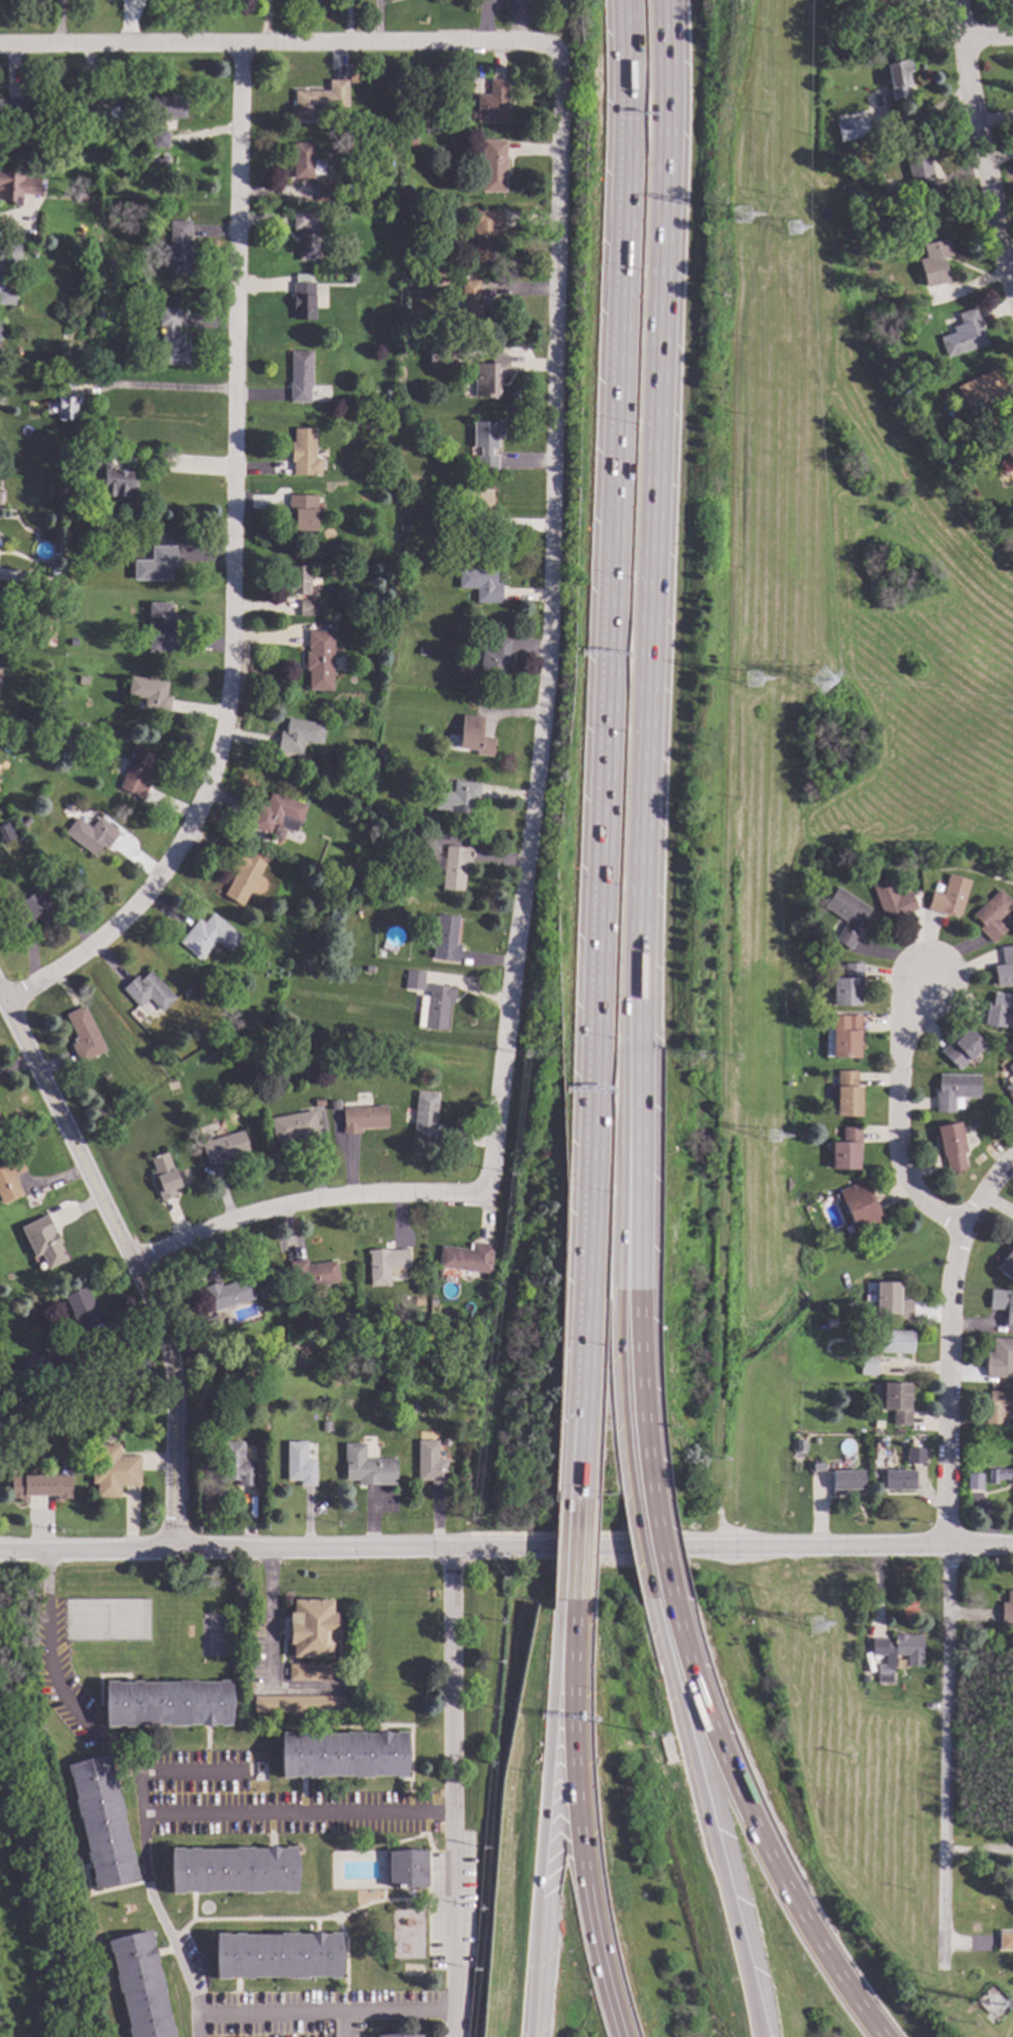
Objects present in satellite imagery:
building: (887, 7)
road: (276, 39)
road: (987, 40)
building: (354, 77)
building: (898, 79)
building: (320, 101)
building: (493, 104)
building: (168, 107)
building: (13, 108)
building: (104, 108)
building: (409, 125)
building: (862, 128)
building: (160, 140)
road: (982, 140)
building: (343, 143)
building: (41, 147)
building: (49, 147)
building: (832, 157)
building: (164, 160)
building: (305, 162)
building: (493, 166)
building: (917, 171)
building: (17, 188)
building: (325, 191)
building: (83, 196)
power tower: (741, 216)
road: (16, 218)
power tower: (795, 232)
building: (484, 234)
building: (306, 235)
building: (178, 248)
building: (10, 254)
building: (109, 262)
building: (934, 263)
building: (353, 265)
building: (351, 278)
building: (403, 279)
building: (6, 295)
building: (302, 299)
building: (470, 307)
building: (100, 311)
building: (964, 336)
building: (892, 338)
building: (171, 340)
building: (405, 351)
building: (440, 358)
building: (89, 368)
building: (299, 377)
building: (488, 377)
building: (65, 382)
road: (158, 387)
building: (984, 390)
building: (387, 395)
building: (66, 409)
building: (486, 444)
building: (946, 447)
building: (1009, 449)
building: (951, 453)
building: (304, 454)
building: (88, 456)
road: (179, 465)
building: (115, 484)
building: (64, 505)
building: (471, 508)
building: (302, 513)
building: (402, 528)
building: (158, 537)
building: (156, 565)
road: (234, 565)
building: (53, 574)
building: (298, 581)
building: (480, 584)
building: (308, 608)
road: (547, 622)
building: (160, 628)
building: (49, 642)
building: (73, 642)
building: (421, 652)
building: (319, 661)
building: (495, 661)
power tower: (755, 680)
building: (83, 681)
power tower: (825, 684)
building: (149, 693)
building: (298, 736)
building: (474, 737)
road: (601, 745)
road: (645, 749)
building: (298, 764)
building: (137, 774)
building: (456, 798)
building: (380, 813)
building: (278, 814)
building: (25, 823)
building: (6, 832)
building: (91, 835)
building: (277, 835)
building: (8, 842)
building: (430, 842)
building: (453, 868)
building: (825, 868)
building: (854, 869)
building: (243, 878)
building: (344, 878)
building: (397, 892)
building: (949, 898)
building: (891, 899)
building: (34, 911)
building: (847, 917)
building: (992, 917)
building: (209, 937)
building: (444, 940)
road: (729, 951)
building: (369, 969)
building: (1004, 969)
building: (414, 981)
building: (847, 985)
building: (149, 992)
building: (436, 1006)
building: (998, 1011)
building: (84, 1035)
building: (841, 1037)
building: (149, 1039)
building: (135, 1048)
building: (961, 1050)
building: (1011, 1069)
building: (955, 1092)
building: (1010, 1093)
building: (847, 1095)
building: (318, 1102)
building: (334, 1106)
road: (900, 1115)
building: (363, 1119)
building: (425, 1119)
building: (294, 1127)
power tower: (773, 1140)
building: (223, 1148)
building: (951, 1148)
building: (845, 1150)
road: (99, 1173)
building: (163, 1177)
building: (9, 1179)
road: (987, 1193)
road: (304, 1204)
building: (858, 1208)
building: (43, 1243)
building: (466, 1259)
building: (1006, 1264)
building: (385, 1266)
building: (311, 1274)
building: (227, 1295)
building: (417, 1302)
building: (431, 1302)
building: (891, 1302)
building: (1002, 1305)
building: (80, 1311)
building: (209, 1322)
building: (894, 1342)
road: (737, 1356)
building: (999, 1360)
road: (158, 1362)
building: (36, 1363)
building: (868, 1367)
building: (896, 1403)
building: (396, 1407)
building: (997, 1407)
building: (411, 1408)
building: (878, 1425)
building: (325, 1427)
building: (816, 1441)
building: (444, 1443)
building: (799, 1447)
building: (915, 1456)
road: (162, 1460)
building: (299, 1464)
building: (429, 1464)
building: (237, 1466)
building: (817, 1467)
building: (366, 1468)
building: (113, 1472)
building: (999, 1476)
building: (846, 1481)
building: (898, 1481)
building: (974, 1483)
park: (0, 1485)
building: (40, 1488)
road: (529, 1546)
road: (573, 1548)
road: (22, 1551)
road: (655, 1552)
road: (470, 1565)
road: (947, 1591)
building: (1007, 1610)
park: (107, 1619)
building: (311, 1629)
park: (214, 1633)
power tower: (815, 1634)
road: (267, 1647)
building: (897, 1647)
road: (570, 1658)
parking lot: (58, 1661)
building: (310, 1673)
building: (883, 1674)
road: (54, 1680)
building: (864, 1680)
building: (299, 1703)
building: (167, 1704)
building: (342, 1756)
road: (192, 1771)
road: (450, 1792)
parking lot: (267, 1800)
road: (299, 1814)
road: (716, 1821)
building: (101, 1823)
road: (755, 1832)
park: (37, 1861)
building: (406, 1868)
building: (232, 1871)
road: (551, 1874)
road: (579, 1876)
parking lot: (452, 1900)
park: (407, 1934)
building: (1005, 1942)
building: (277, 1957)
building: (140, 1987)
power tower: (989, 2000)
parking lot: (294, 2006)
road: (203, 2011)
road: (341, 2023)
road: (198, 2024)
building: (406, 2036)

